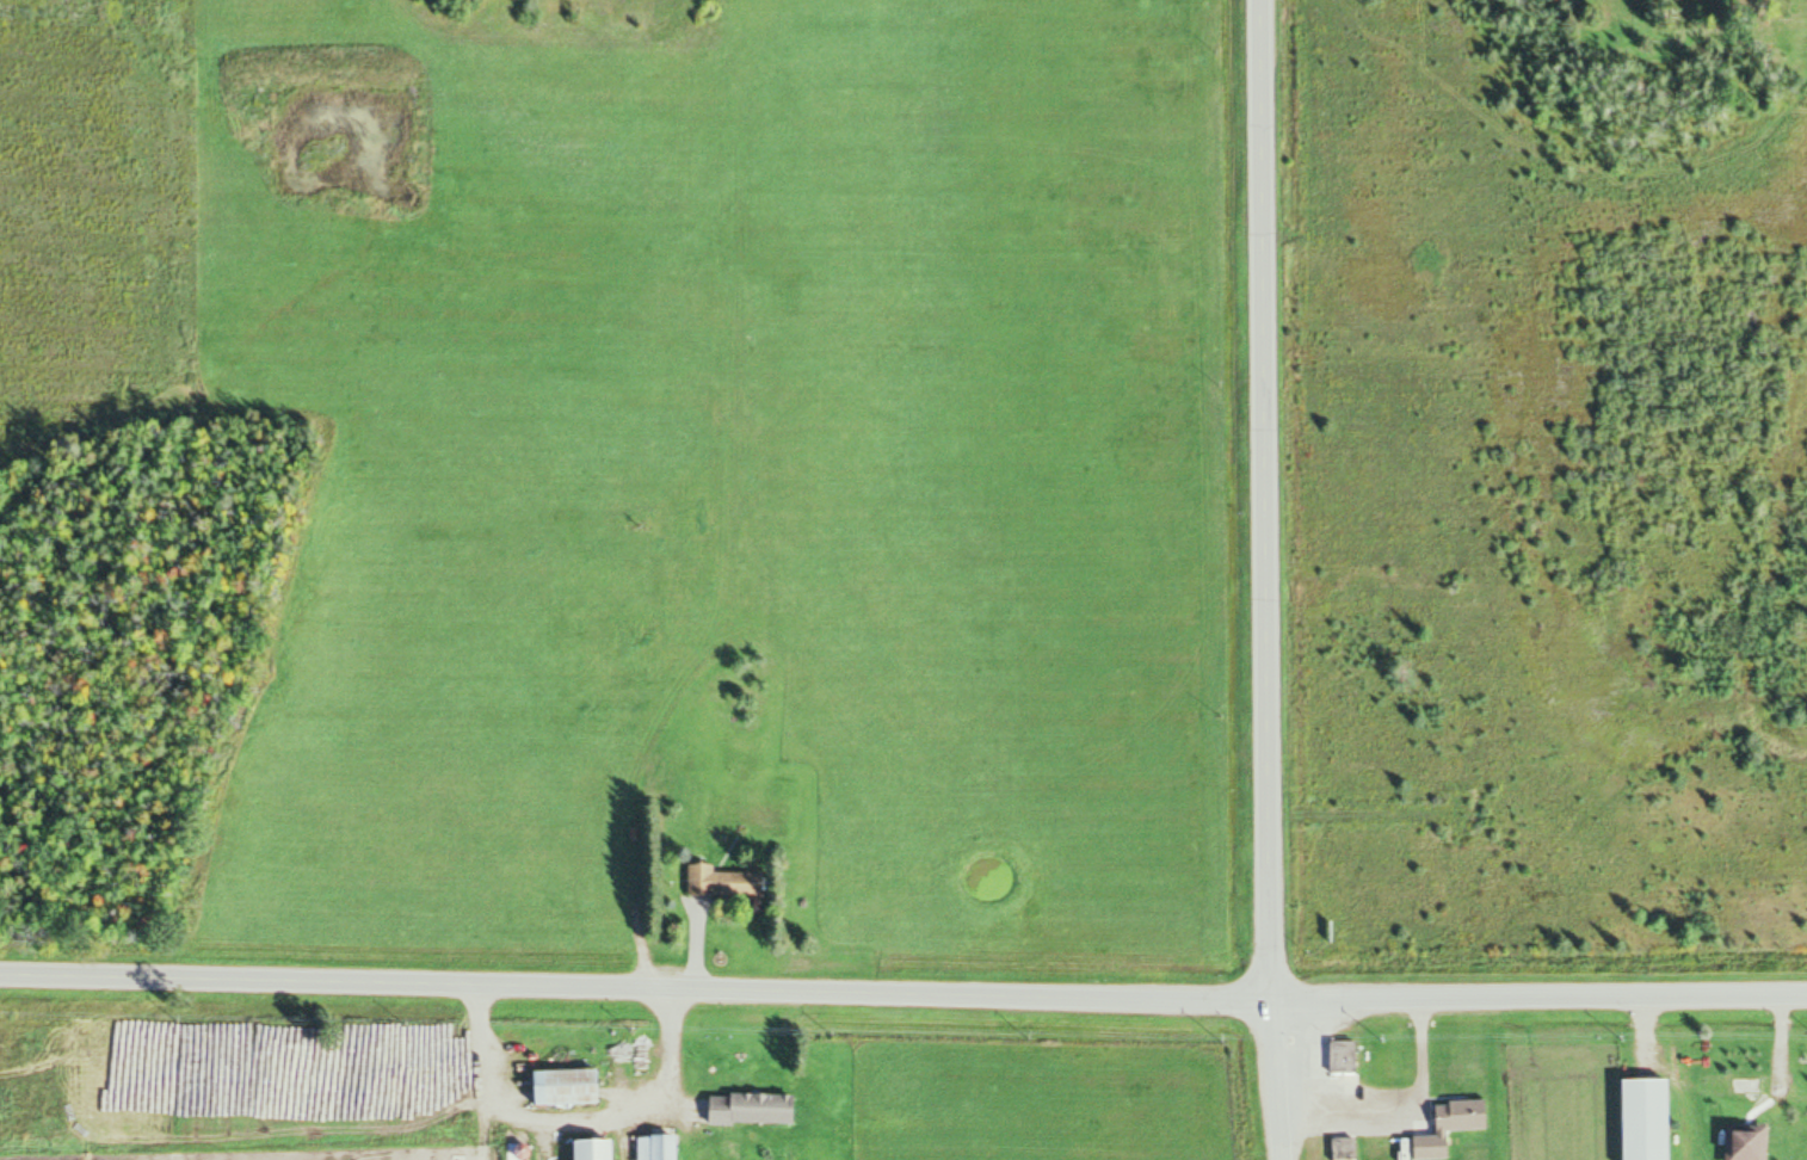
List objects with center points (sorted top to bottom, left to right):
road: (1265, 580)
building: (727, 883)
road: (902, 989)
building: (1345, 1057)
building: (572, 1090)
building: (757, 1109)
building: (1649, 1118)
building: (1453, 1127)
building: (1751, 1142)
building: (668, 1147)
building: (597, 1149)

